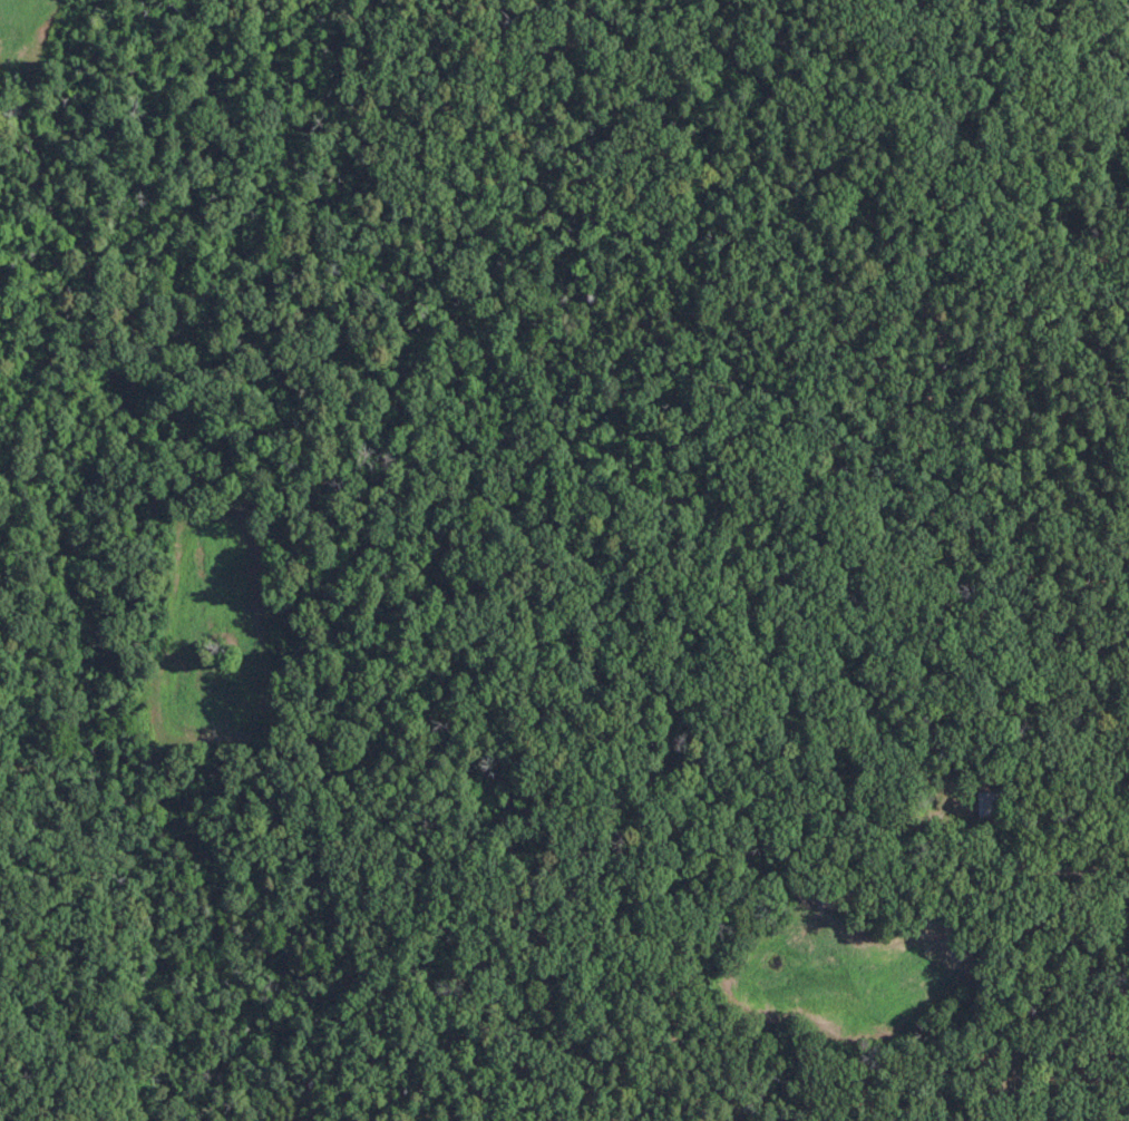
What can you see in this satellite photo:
building: (987, 806)
road: (1000, 859)

